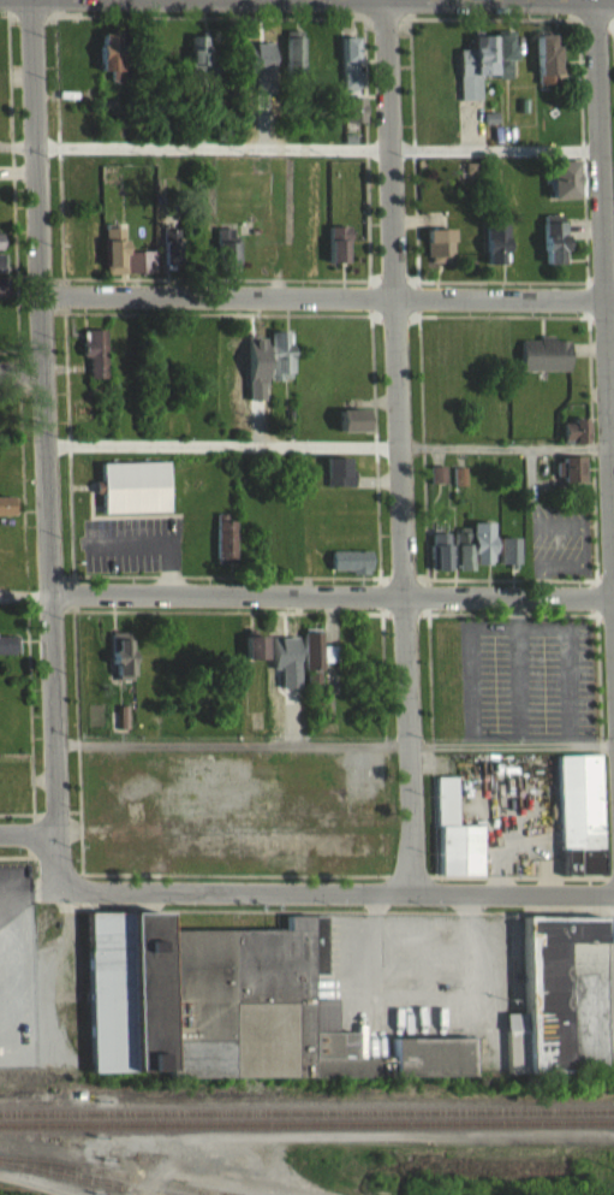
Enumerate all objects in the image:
road: (606, 10)
building: (292, 61)
building: (197, 63)
building: (109, 64)
building: (544, 64)
building: (347, 71)
building: (482, 72)
park: (612, 105)
building: (352, 118)
building: (561, 188)
building: (550, 247)
building: (493, 252)
building: (336, 253)
building: (439, 254)
building: (169, 255)
building: (225, 255)
building: (123, 264)
building: (1, 271)
building: (0, 295)
road: (326, 296)
road: (606, 320)
building: (94, 361)
road: (20, 362)
building: (279, 363)
building: (542, 363)
building: (353, 428)
building: (573, 439)
road: (43, 440)
road: (399, 445)
road: (503, 456)
road: (612, 460)
building: (568, 478)
building: (336, 480)
building: (435, 483)
building: (457, 485)
building: (132, 496)
building: (6, 514)
building: (223, 549)
building: (471, 554)
building: (437, 560)
building: (506, 560)
building: (350, 570)
road: (332, 593)
road: (25, 594)
building: (7, 653)
building: (254, 656)
building: (315, 663)
building: (120, 664)
building: (118, 729)
road: (233, 744)
building: (578, 823)
road: (28, 835)
building: (453, 845)
road: (335, 889)
building: (559, 1006)
building: (210, 1010)
building: (430, 1065)
railway: (306, 1110)
railway: (306, 1123)
railway: (113, 1172)
railway: (85, 1178)
railway: (217, 1193)

